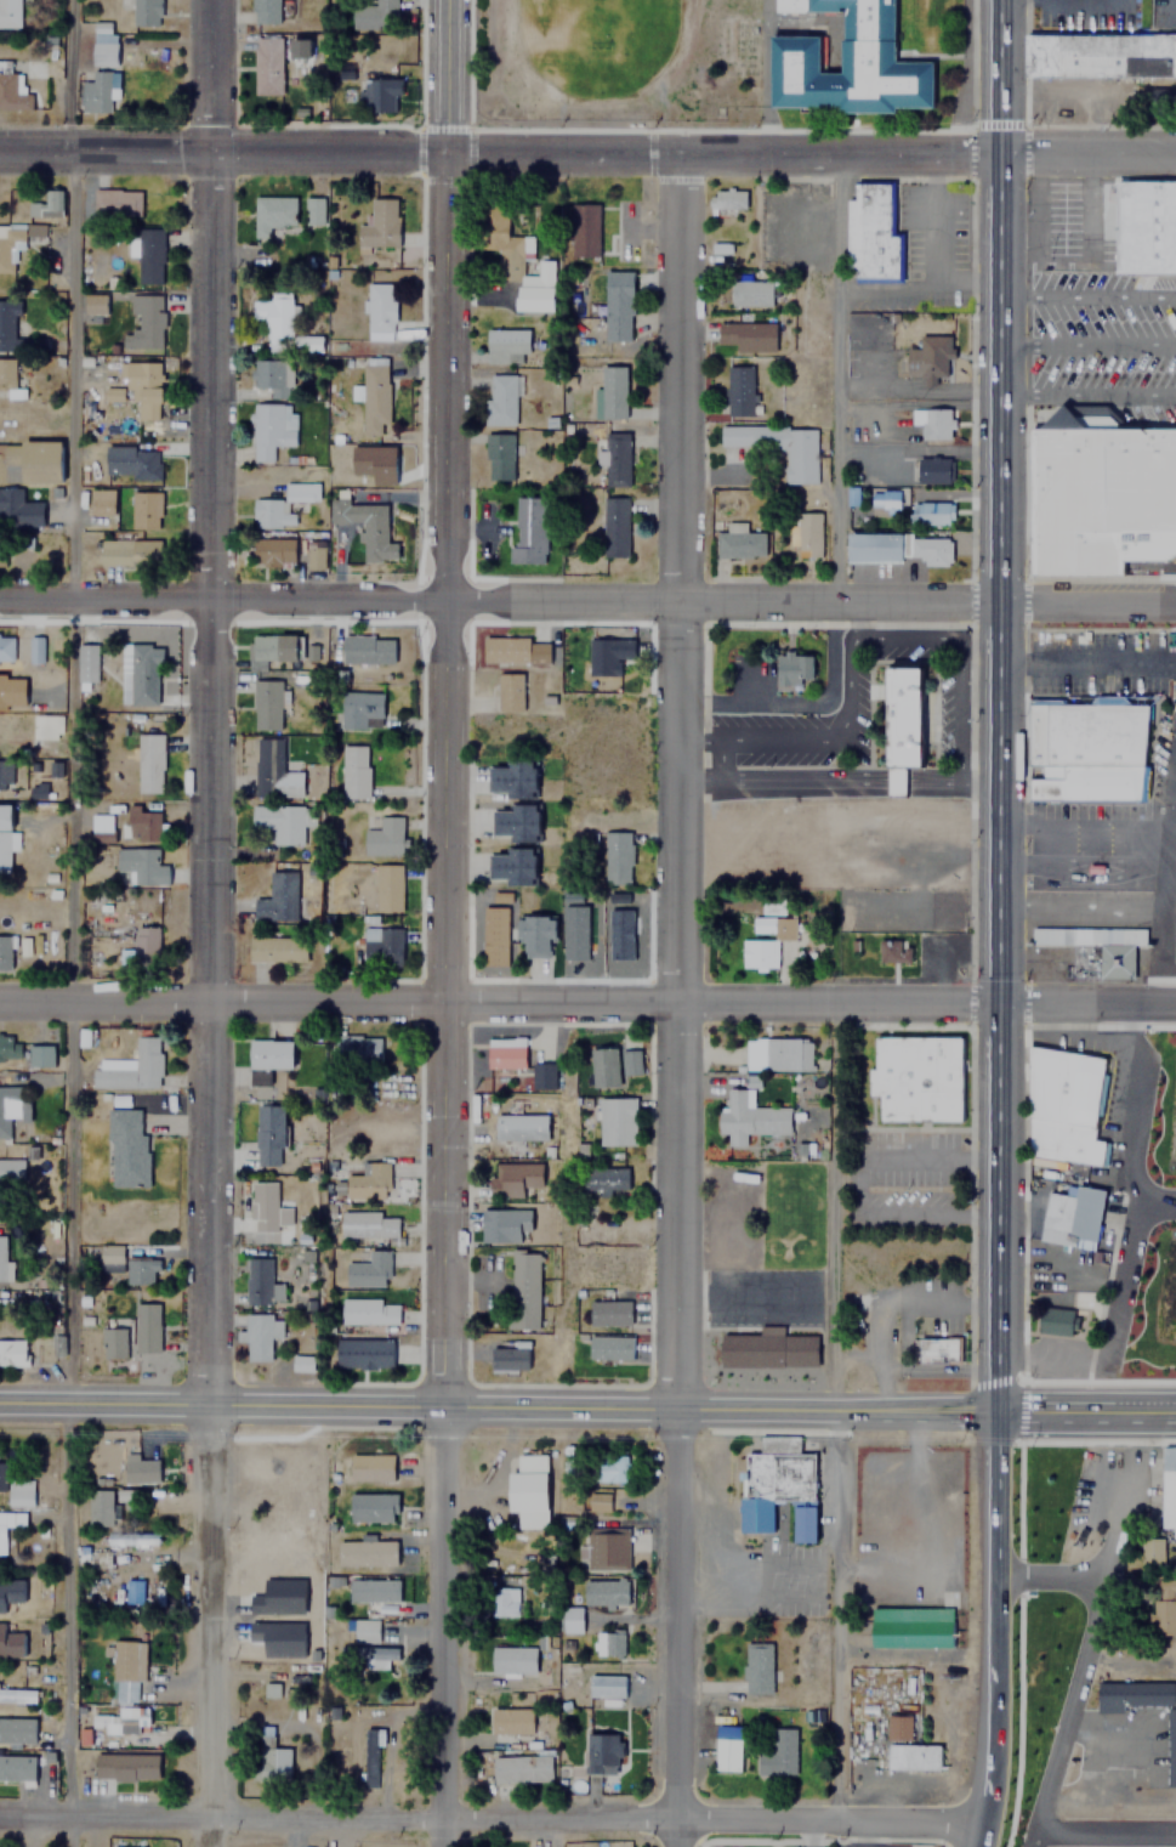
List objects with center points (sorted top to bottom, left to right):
building: (265, 11)
building: (144, 12)
building: (8, 13)
building: (374, 15)
park: (593, 18)
building: (102, 43)
building: (302, 47)
building: (1100, 55)
building: (846, 62)
building: (266, 68)
road: (998, 78)
building: (8, 89)
building: (96, 91)
building: (379, 95)
road: (587, 154)
building: (2, 197)
building: (726, 199)
building: (42, 203)
building: (115, 203)
building: (312, 210)
building: (272, 214)
building: (626, 214)
building: (380, 222)
building: (1144, 227)
building: (34, 230)
building: (584, 230)
building: (871, 232)
building: (8, 245)
building: (144, 253)
building: (750, 291)
road: (1087, 294)
building: (538, 301)
building: (93, 304)
building: (615, 305)
building: (379, 311)
building: (274, 321)
building: (142, 323)
building: (13, 330)
building: (746, 335)
building: (311, 344)
road: (1087, 345)
building: (506, 346)
building: (928, 356)
building: (6, 370)
building: (266, 374)
road: (825, 380)
building: (135, 386)
building: (738, 390)
building: (612, 392)
road: (1089, 395)
building: (374, 400)
building: (501, 400)
building: (934, 424)
building: (271, 429)
building: (779, 447)
building: (614, 455)
building: (499, 457)
building: (32, 460)
building: (131, 463)
building: (377, 463)
building: (932, 470)
building: (302, 492)
building: (1098, 493)
road: (70, 500)
building: (884, 500)
building: (100, 502)
building: (19, 510)
building: (143, 510)
building: (272, 512)
building: (928, 512)
building: (362, 523)
building: (527, 528)
building: (614, 528)
building: (807, 533)
building: (738, 542)
building: (874, 546)
building: (930, 550)
building: (2, 551)
building: (118, 551)
building: (272, 553)
building: (317, 554)
road: (587, 601)
building: (6, 647)
building: (272, 648)
building: (368, 648)
building: (511, 650)
building: (33, 652)
building: (609, 655)
building: (85, 662)
building: (768, 670)
building: (141, 674)
building: (12, 691)
building: (509, 691)
road: (442, 701)
building: (265, 703)
building: (359, 709)
building: (913, 723)
building: (45, 726)
building: (1084, 749)
building: (148, 763)
building: (273, 770)
building: (4, 771)
building: (354, 771)
building: (512, 778)
road: (1001, 780)
building: (904, 788)
road: (841, 789)
building: (38, 791)
building: (515, 822)
building: (142, 823)
building: (280, 823)
building: (100, 827)
building: (5, 835)
building: (382, 837)
building: (618, 857)
building: (141, 865)
building: (510, 866)
building: (386, 888)
building: (277, 897)
road: (215, 923)
building: (575, 931)
building: (623, 933)
building: (535, 935)
building: (495, 939)
building: (765, 940)
building: (381, 945)
building: (144, 946)
building: (1095, 947)
building: (277, 948)
building: (5, 952)
building: (893, 953)
building: (127, 956)
road: (682, 1001)
road: (587, 1005)
building: (8, 1047)
building: (356, 1049)
building: (778, 1053)
building: (39, 1055)
building: (269, 1055)
building: (505, 1056)
building: (631, 1065)
building: (130, 1067)
building: (604, 1069)
building: (542, 1076)
building: (917, 1078)
building: (10, 1105)
building: (1063, 1107)
building: (750, 1117)
building: (617, 1121)
building: (519, 1127)
building: (268, 1135)
building: (125, 1149)
building: (10, 1174)
building: (513, 1178)
building: (606, 1179)
building: (368, 1182)
road: (1155, 1205)
building: (265, 1207)
building: (1073, 1213)
road: (1135, 1214)
building: (367, 1225)
building: (505, 1225)
park: (1157, 1239)
building: (2, 1258)
building: (113, 1258)
building: (140, 1270)
building: (368, 1270)
building: (261, 1282)
building: (523, 1291)
building: (368, 1311)
building: (609, 1313)
building: (1058, 1321)
building: (146, 1327)
building: (257, 1337)
building: (113, 1343)
building: (938, 1347)
building: (609, 1348)
building: (767, 1350)
building: (12, 1354)
building: (363, 1354)
building: (507, 1359)
building: (301, 1364)
road: (587, 1404)
building: (260, 1467)
building: (370, 1467)
building: (140, 1469)
building: (609, 1469)
building: (2, 1475)
building: (778, 1486)
building: (1169, 1486)
building: (528, 1490)
building: (19, 1491)
building: (127, 1495)
road: (999, 1497)
building: (598, 1501)
building: (98, 1506)
building: (371, 1506)
building: (8, 1523)
building: (130, 1537)
building: (607, 1549)
building: (1152, 1551)
building: (365, 1552)
building: (373, 1588)
building: (10, 1591)
building: (132, 1591)
building: (606, 1592)
building: (282, 1596)
building: (504, 1602)
building: (1165, 1607)
building: (569, 1619)
road: (63, 1625)
road: (444, 1625)
building: (910, 1627)
building: (364, 1630)
building: (282, 1637)
building: (11, 1642)
building: (608, 1643)
building: (367, 1655)
building: (512, 1660)
road: (1085, 1660)
building: (125, 1667)
building: (757, 1667)
building: (606, 1685)
building: (1135, 1693)
building: (17, 1694)
road: (993, 1711)
building: (511, 1721)
building: (894, 1726)
building: (16, 1729)
building: (1171, 1746)
building: (779, 1752)
building: (370, 1753)
building: (603, 1753)
building: (727, 1753)
building: (911, 1756)
building: (271, 1761)
building: (125, 1766)
building: (16, 1767)
building: (521, 1768)
road: (489, 1825)
road: (1108, 1831)
road: (977, 1838)
building: (121, 1846)

